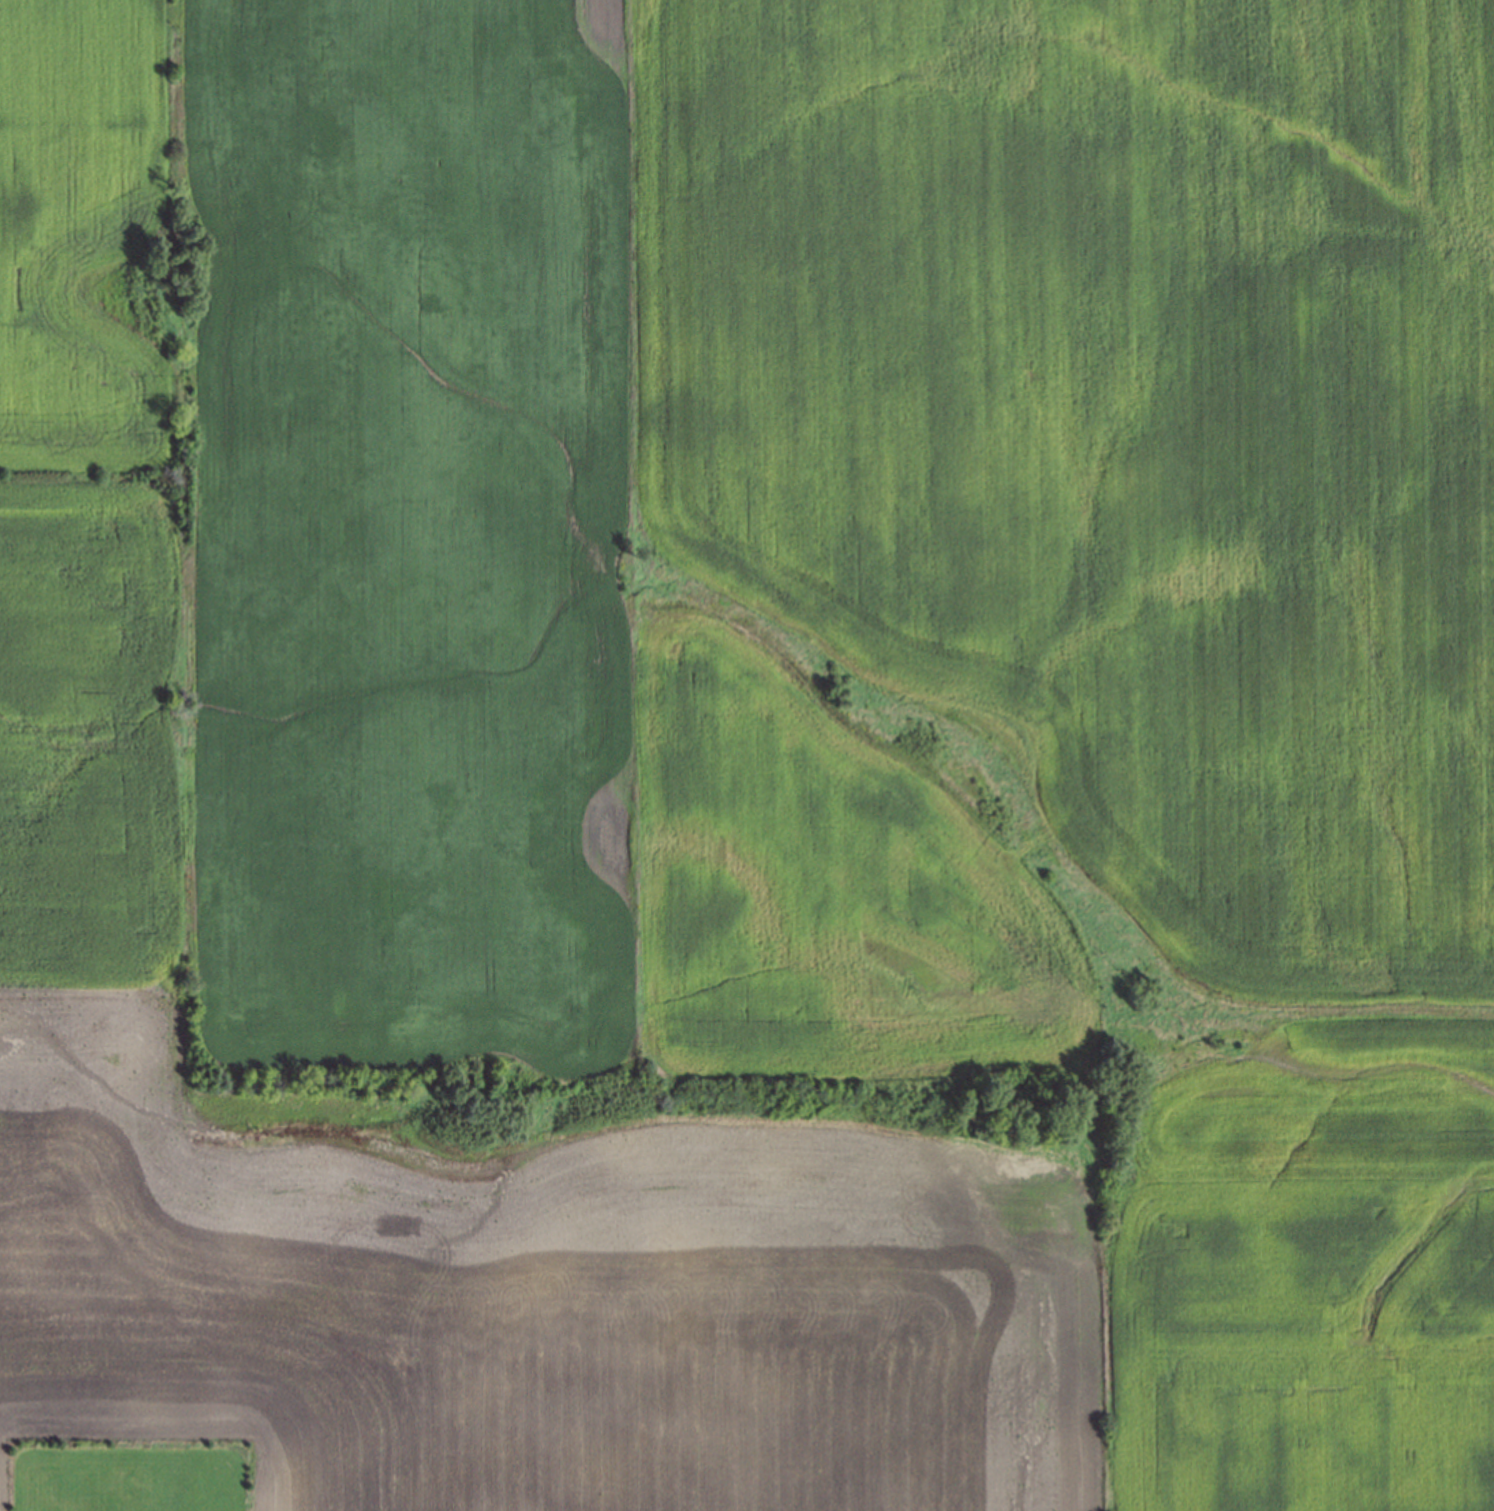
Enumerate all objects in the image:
crop: (95, 244)
crop: (1101, 427)
crop: (407, 521)
crop: (99, 736)
crop: (828, 899)
crop: (1336, 1096)
crop: (505, 1310)
crop: (1304, 1350)

